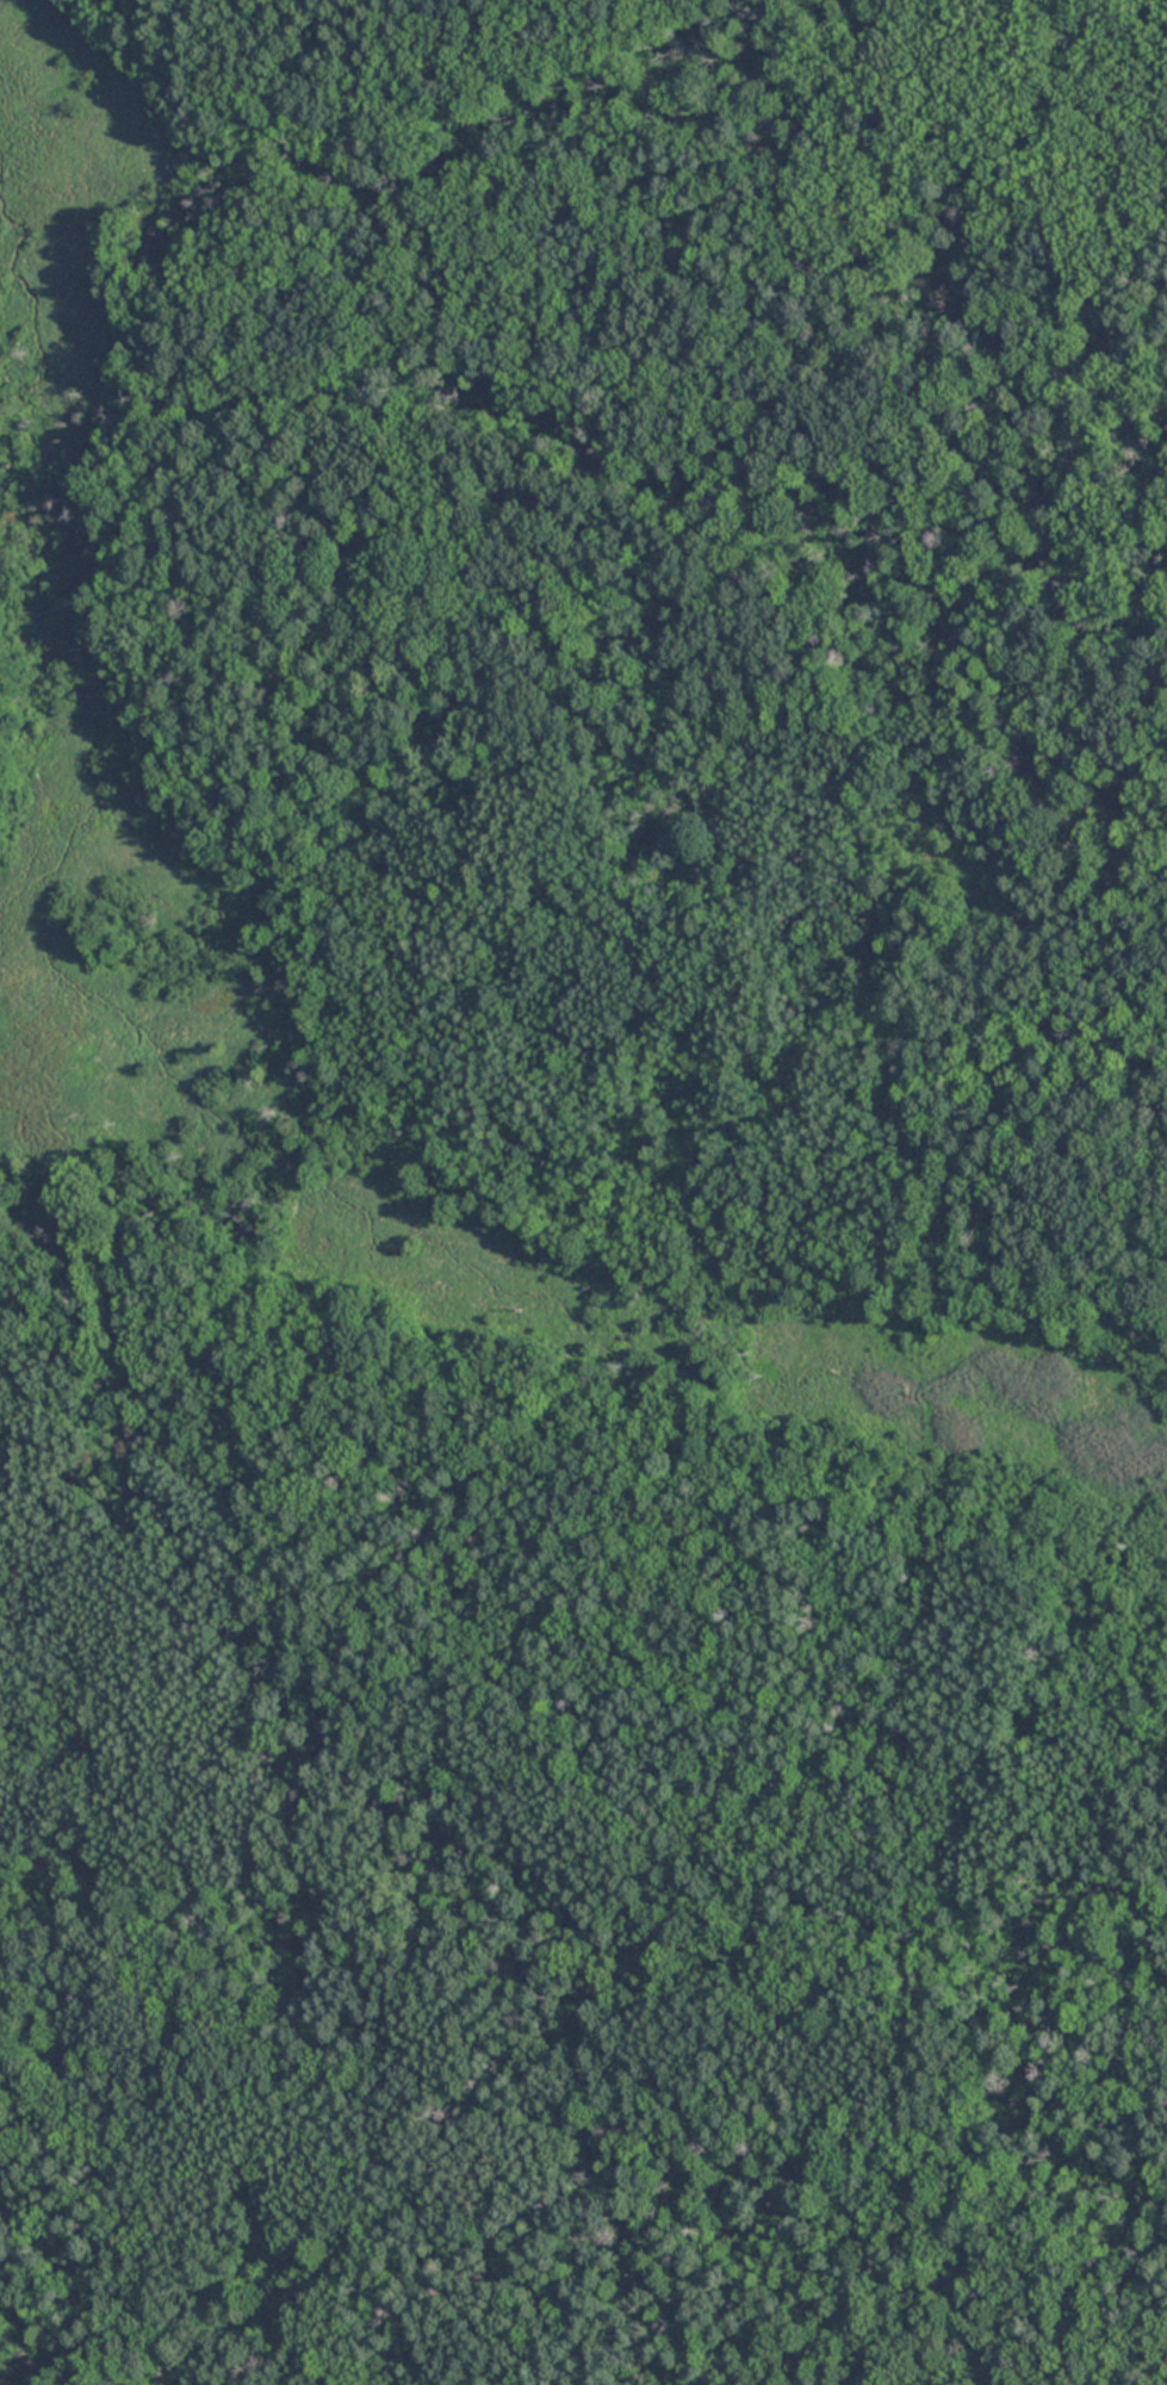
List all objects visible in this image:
park: (592, 1011)

